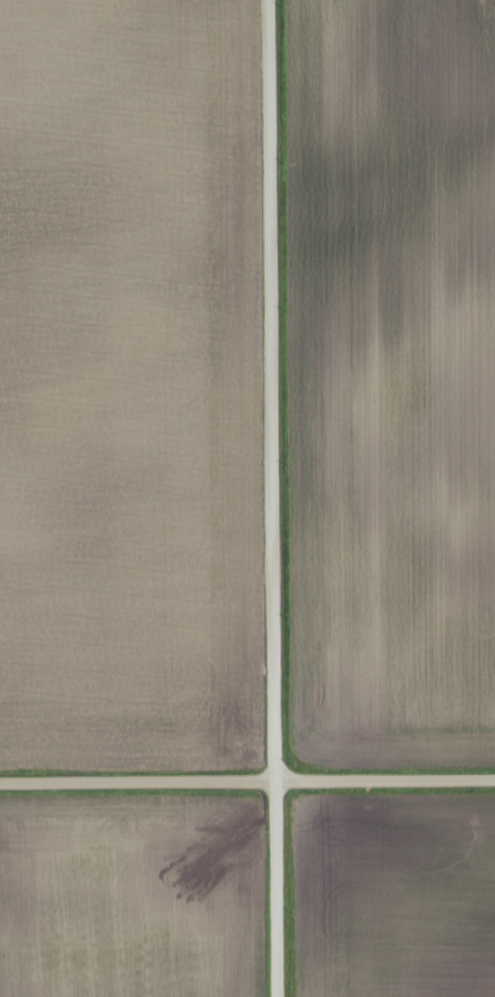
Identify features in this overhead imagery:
road: (265, 498)
road: (247, 781)

